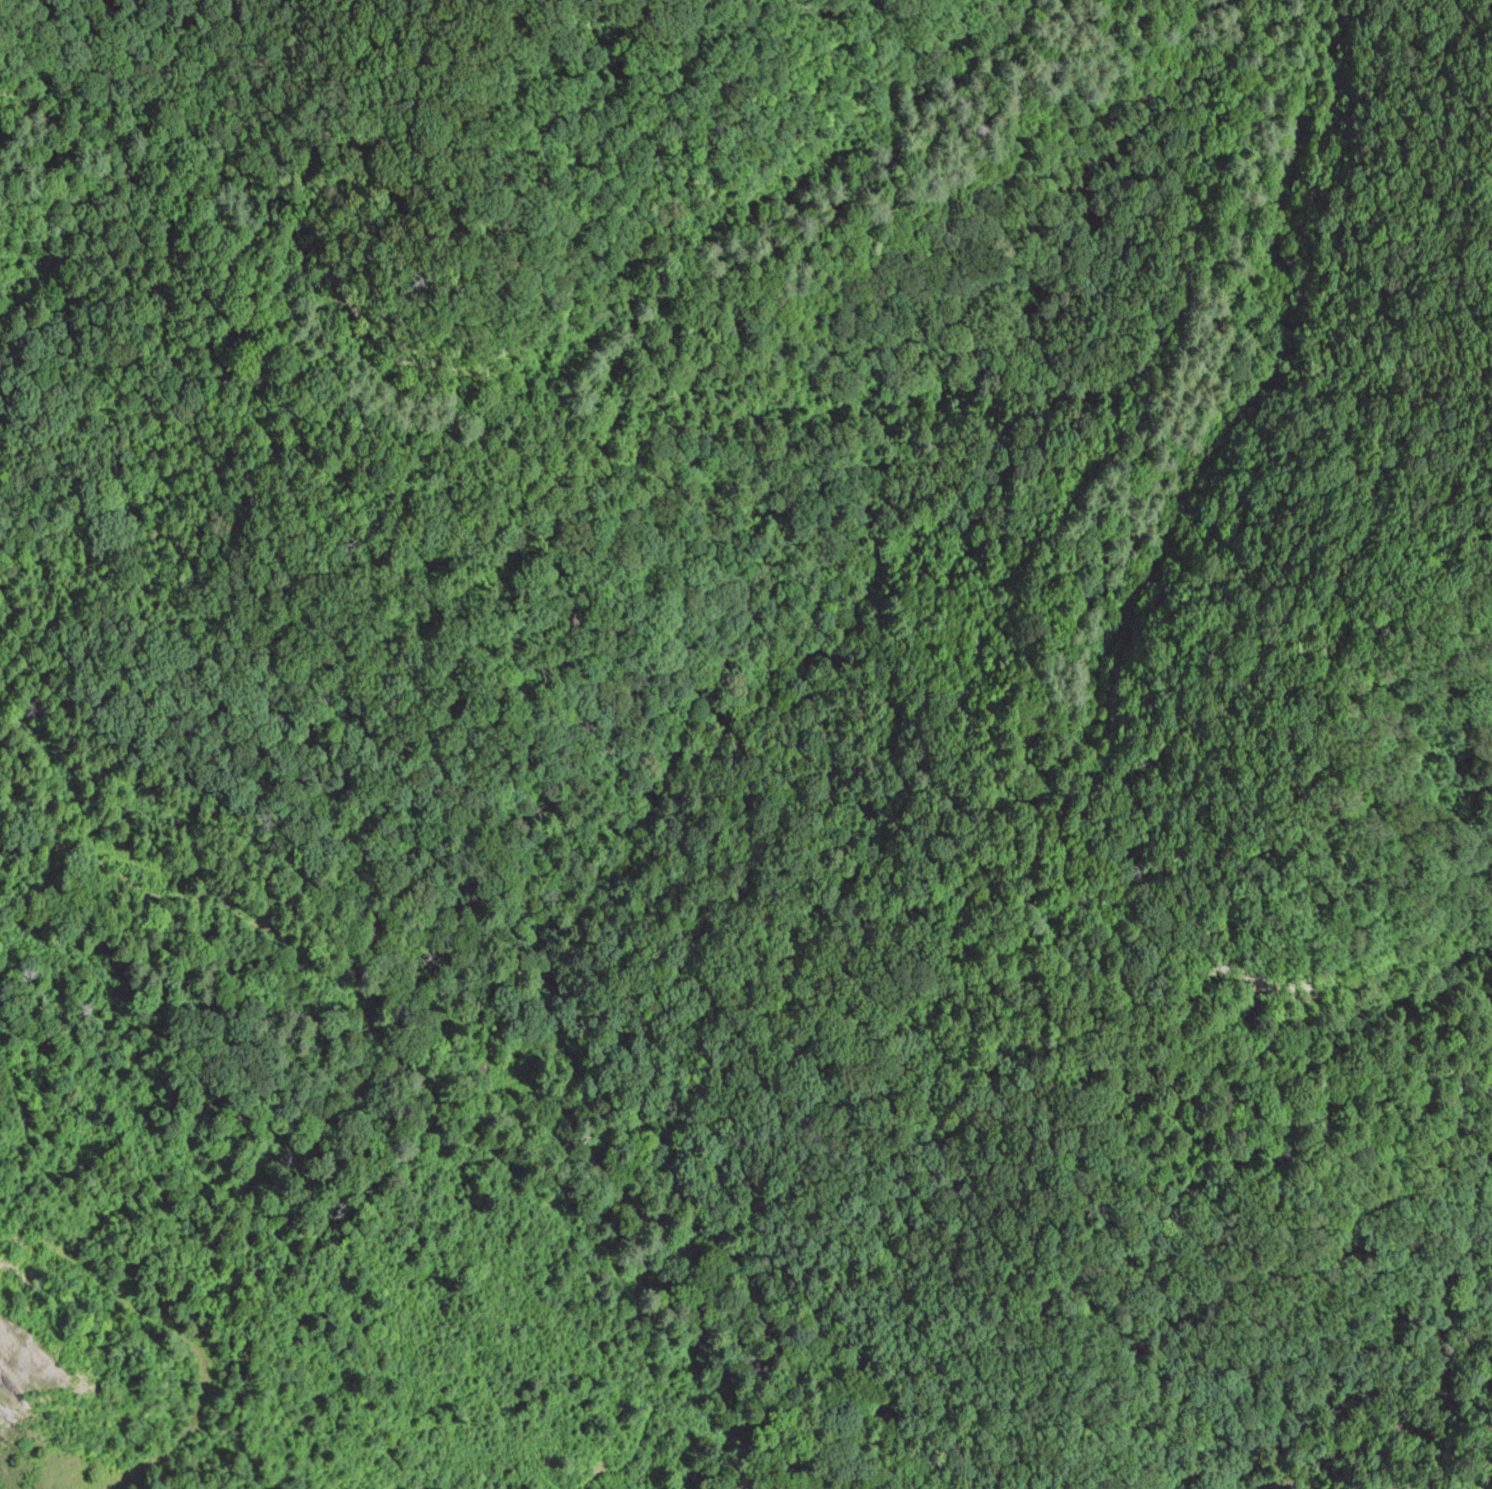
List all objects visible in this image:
quarry: (26, 1369)

